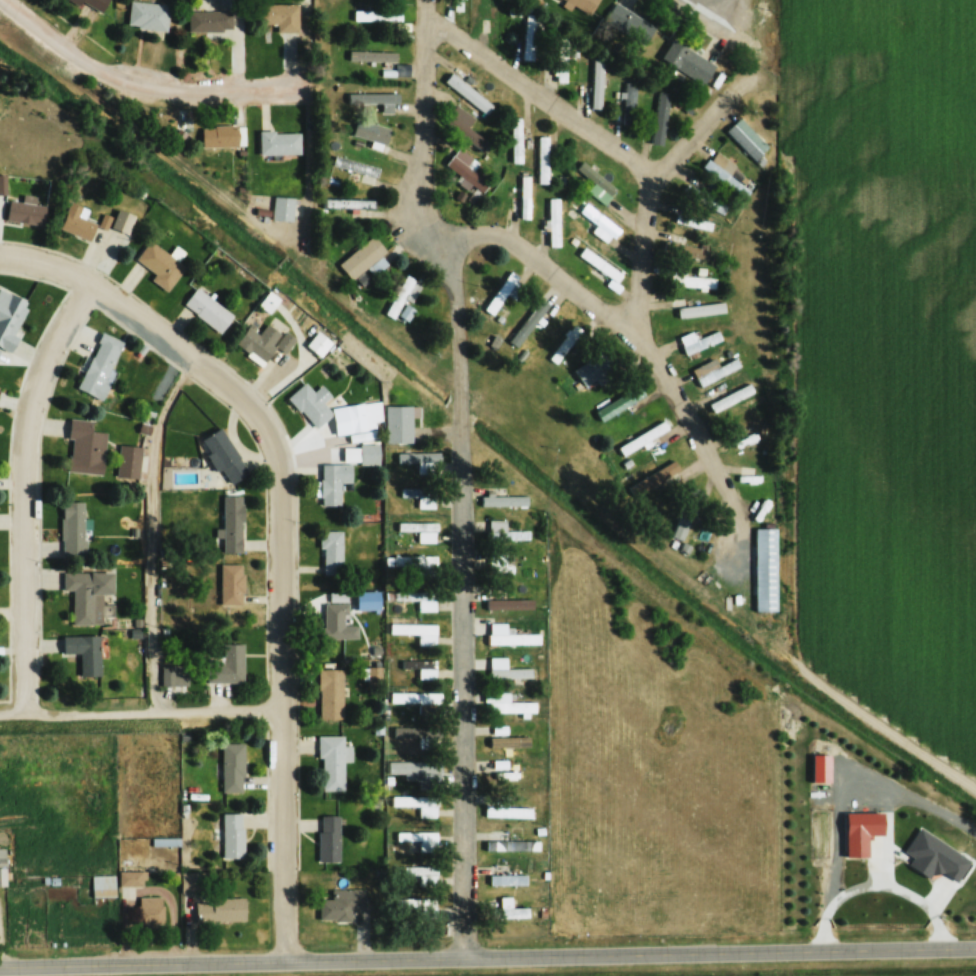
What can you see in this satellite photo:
road: (707, 1)
building: (583, 4)
building: (93, 5)
building: (454, 5)
building: (148, 15)
building: (376, 15)
building: (281, 16)
building: (209, 20)
building: (630, 23)
building: (531, 34)
building: (372, 55)
building: (560, 59)
building: (687, 62)
building: (597, 83)
road: (140, 85)
building: (468, 93)
road: (542, 96)
building: (372, 97)
building: (629, 102)
building: (660, 117)
building: (463, 126)
building: (370, 130)
building: (221, 136)
building: (516, 139)
building: (747, 140)
building: (279, 143)
building: (542, 159)
building: (359, 169)
building: (466, 173)
building: (727, 176)
road: (657, 178)
building: (2, 184)
building: (596, 184)
building: (524, 196)
building: (705, 200)
building: (348, 202)
building: (282, 208)
building: (25, 212)
building: (122, 221)
building: (693, 221)
building: (77, 222)
building: (553, 222)
building: (598, 223)
building: (362, 258)
building: (592, 259)
building: (160, 265)
road: (546, 266)
building: (697, 281)
building: (500, 292)
building: (402, 295)
building: (700, 309)
building: (207, 310)
building: (405, 312)
building: (10, 319)
building: (528, 322)
building: (697, 342)
building: (258, 343)
building: (318, 343)
building: (562, 345)
building: (99, 366)
building: (596, 368)
building: (714, 374)
building: (731, 398)
building: (311, 403)
building: (615, 405)
building: (366, 417)
building: (398, 424)
building: (642, 438)
building: (751, 440)
building: (84, 448)
building: (369, 454)
building: (224, 455)
building: (128, 461)
building: (422, 461)
building: (333, 482)
road: (27, 491)
building: (420, 496)
building: (507, 497)
building: (686, 513)
building: (232, 523)
building: (73, 529)
road: (156, 530)
road: (287, 530)
building: (421, 530)
building: (504, 532)
building: (331, 552)
building: (416, 564)
building: (765, 569)
building: (511, 570)
building: (231, 584)
building: (89, 595)
road: (465, 595)
building: (417, 599)
building: (510, 605)
building: (337, 622)
building: (416, 632)
building: (510, 636)
building: (84, 653)
building: (227, 665)
building: (421, 668)
building: (506, 669)
building: (372, 673)
building: (174, 675)
building: (330, 693)
building: (418, 700)
building: (508, 702)
road: (144, 713)
building: (415, 732)
building: (498, 732)
building: (520, 743)
building: (332, 762)
building: (232, 767)
building: (416, 769)
building: (510, 775)
building: (417, 804)
building: (503, 808)
building: (232, 835)
building: (328, 838)
building: (420, 841)
building: (511, 845)
building: (2, 866)
building: (420, 874)
building: (132, 878)
building: (507, 879)
building: (194, 882)
building: (103, 885)
building: (341, 904)
building: (150, 911)
building: (219, 911)
building: (416, 912)
building: (510, 912)
road: (488, 959)

